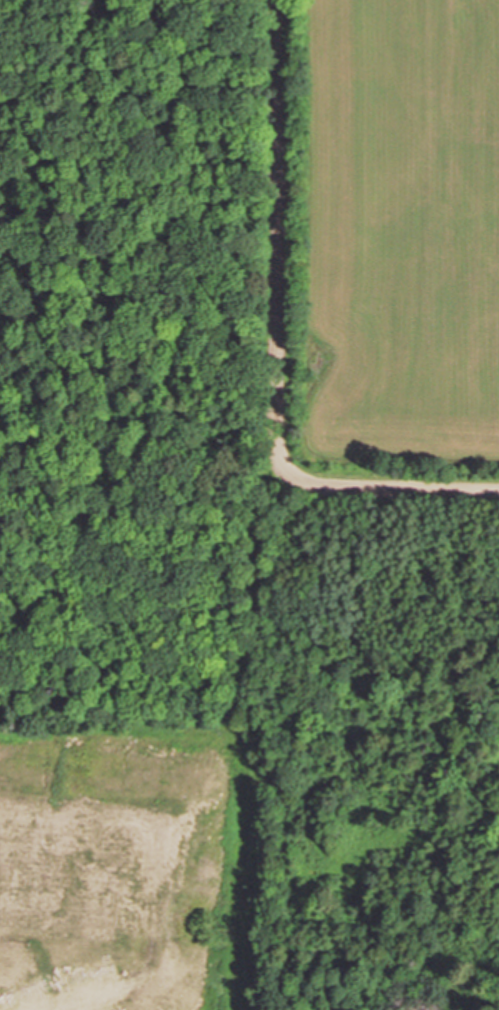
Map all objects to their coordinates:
road: (278, 114)
road: (280, 459)
landfill: (137, 506)
road: (223, 686)

